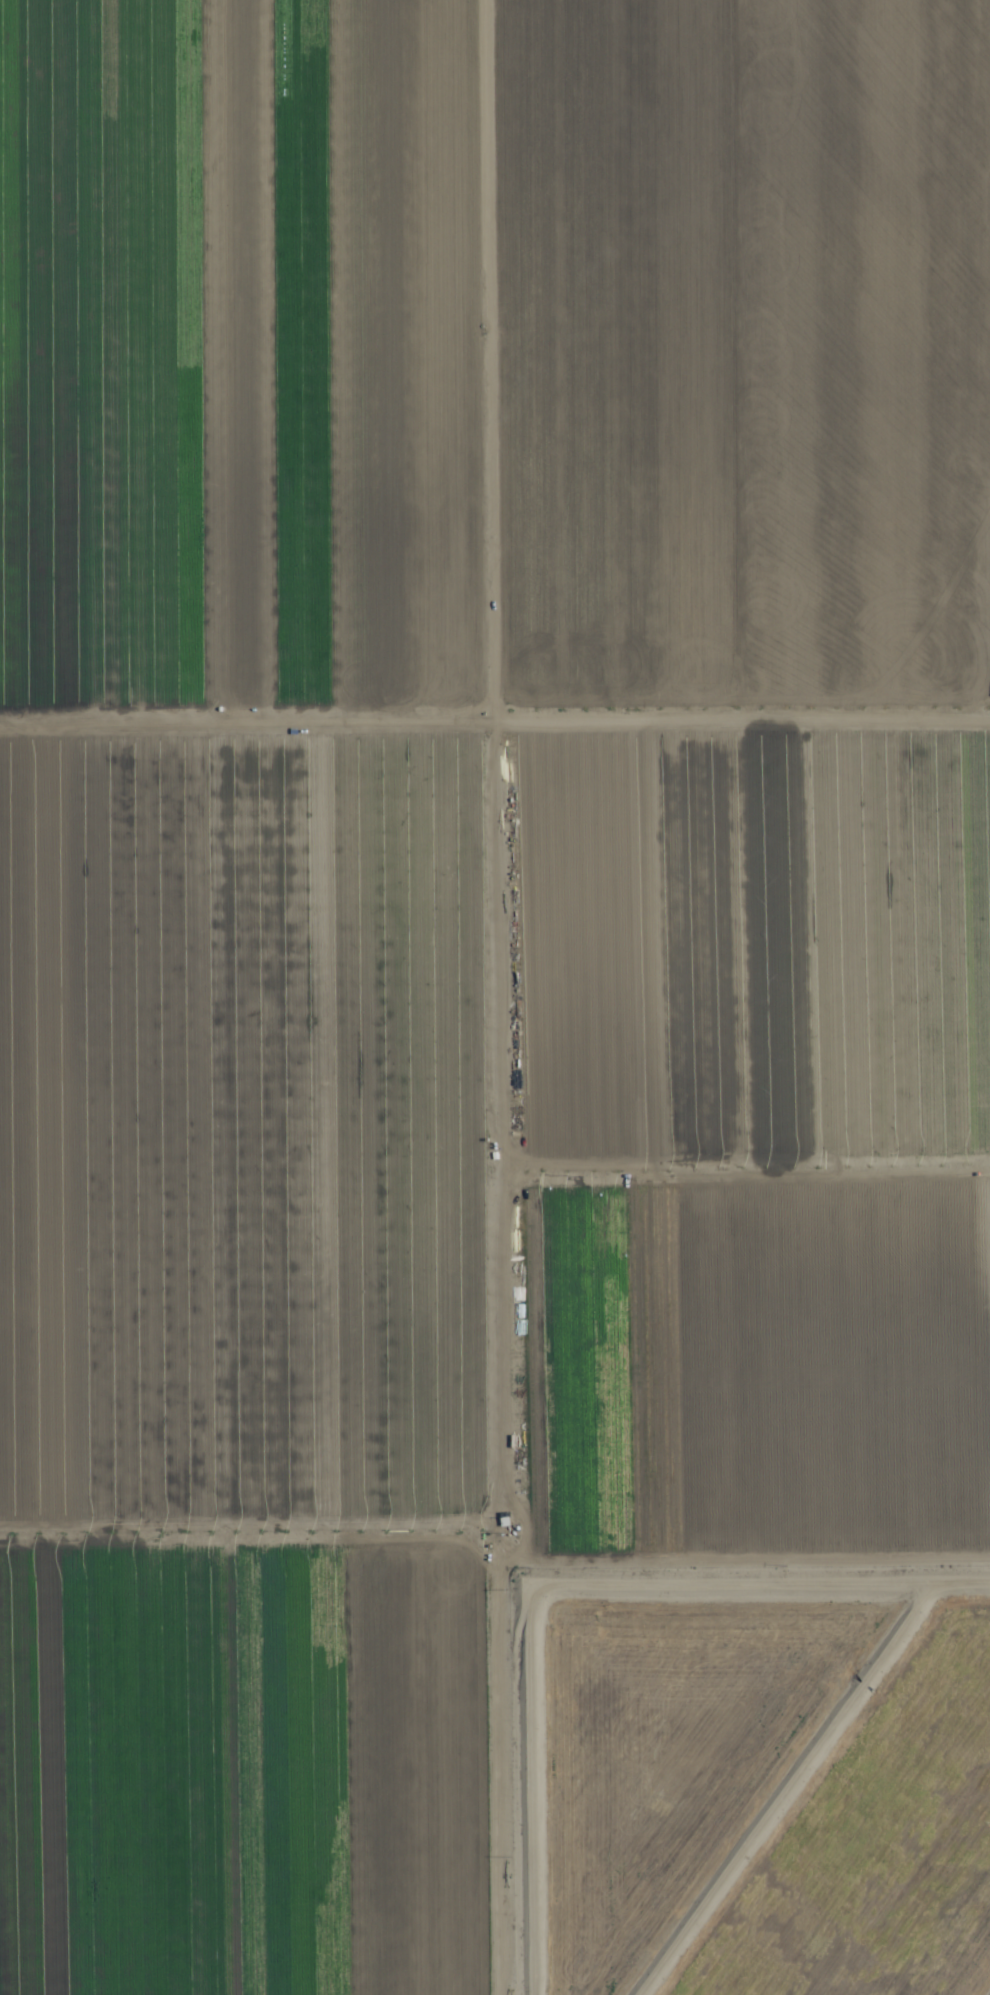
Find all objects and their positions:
road: (495, 709)
crop: (464, 912)

